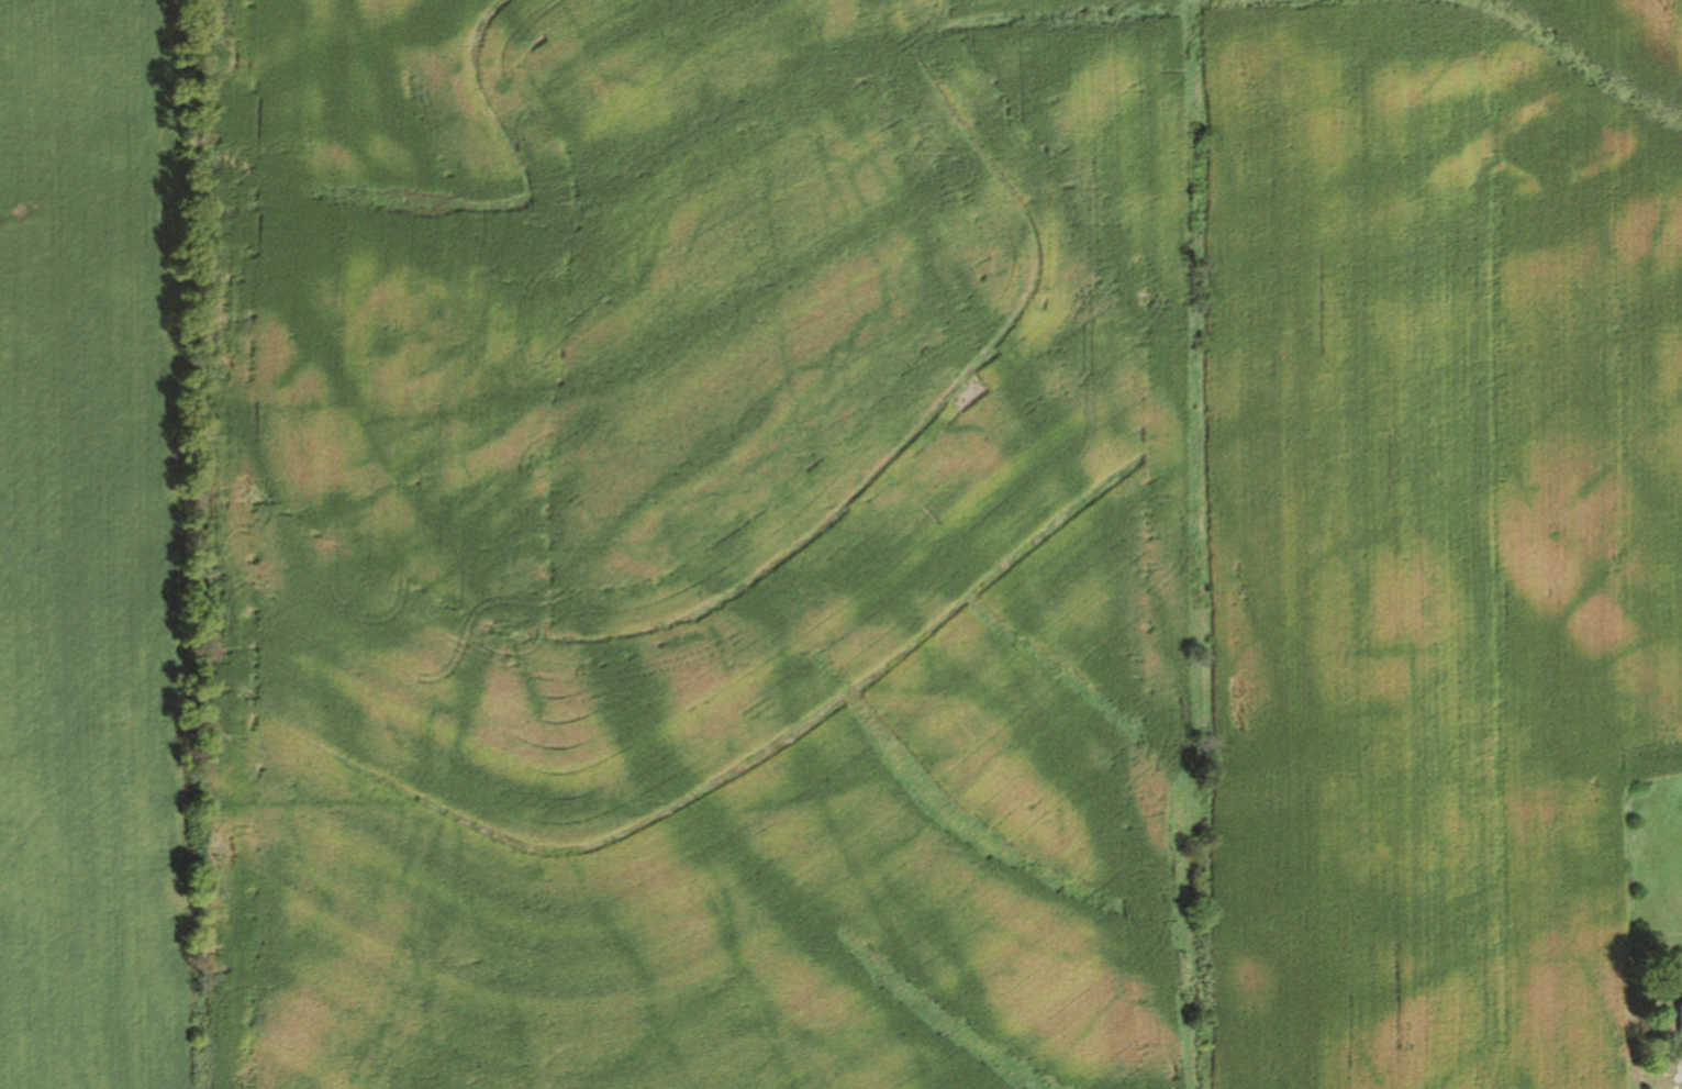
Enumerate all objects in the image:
building: (1677, 1033)

